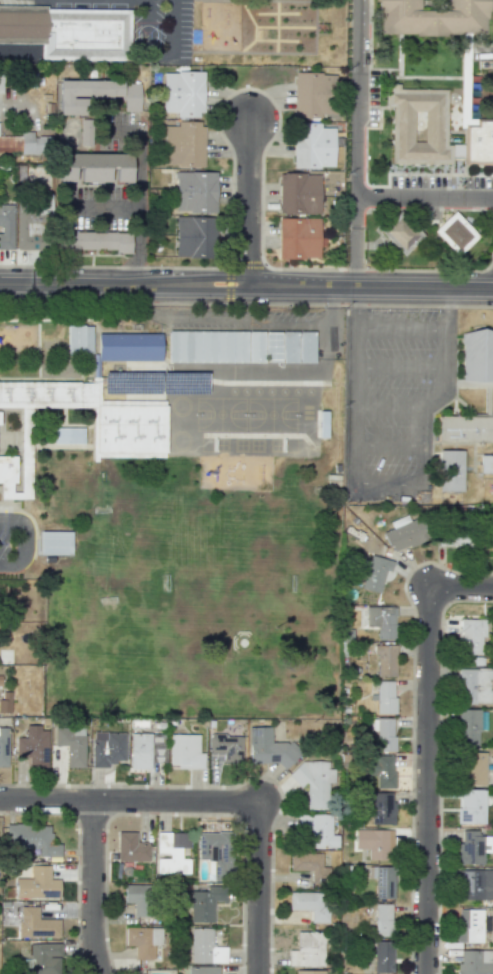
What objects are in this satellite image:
building: (432, 17)
road: (186, 29)
building: (68, 31)
road: (16, 55)
building: (1, 83)
building: (96, 94)
building: (183, 94)
building: (313, 94)
road: (359, 97)
road: (18, 102)
building: (434, 131)
building: (86, 132)
building: (9, 143)
building: (33, 143)
building: (183, 145)
building: (312, 146)
building: (95, 167)
road: (137, 189)
building: (195, 192)
building: (298, 193)
road: (378, 195)
road: (248, 203)
road: (101, 208)
building: (30, 220)
building: (6, 226)
building: (400, 233)
building: (455, 233)
building: (192, 237)
building: (299, 238)
building: (94, 241)
road: (246, 286)
road: (403, 328)
building: (80, 340)
building: (208, 346)
building: (255, 347)
building: (272, 347)
building: (289, 347)
building: (305, 347)
building: (478, 355)
parking lot: (394, 399)
road: (356, 403)
road: (430, 403)
building: (1, 417)
building: (465, 428)
building: (129, 431)
building: (67, 435)
building: (486, 463)
building: (452, 471)
road: (386, 480)
building: (404, 533)
building: (452, 537)
road: (22, 542)
building: (488, 542)
building: (54, 543)
building: (381, 621)
building: (471, 637)
building: (385, 661)
building: (0, 682)
building: (475, 686)
building: (385, 697)
building: (5, 703)
building: (468, 727)
building: (383, 733)
building: (71, 744)
building: (33, 747)
building: (226, 747)
building: (107, 748)
building: (269, 748)
building: (146, 750)
building: (184, 751)
road: (428, 754)
building: (472, 768)
building: (382, 771)
building: (314, 782)
road: (134, 800)
building: (471, 806)
building: (380, 808)
building: (317, 830)
building: (31, 838)
building: (374, 843)
building: (131, 847)
building: (470, 847)
building: (212, 849)
building: (172, 852)
building: (308, 865)
building: (382, 881)
building: (37, 884)
building: (475, 884)
road: (96, 887)
building: (139, 899)
road: (258, 900)
building: (203, 902)
building: (310, 904)
building: (382, 919)
building: (36, 924)
building: (471, 925)
building: (142, 941)
building: (205, 947)
building: (308, 949)
building: (383, 957)
building: (45, 958)
building: (475, 962)
building: (203, 970)
building: (309, 971)

